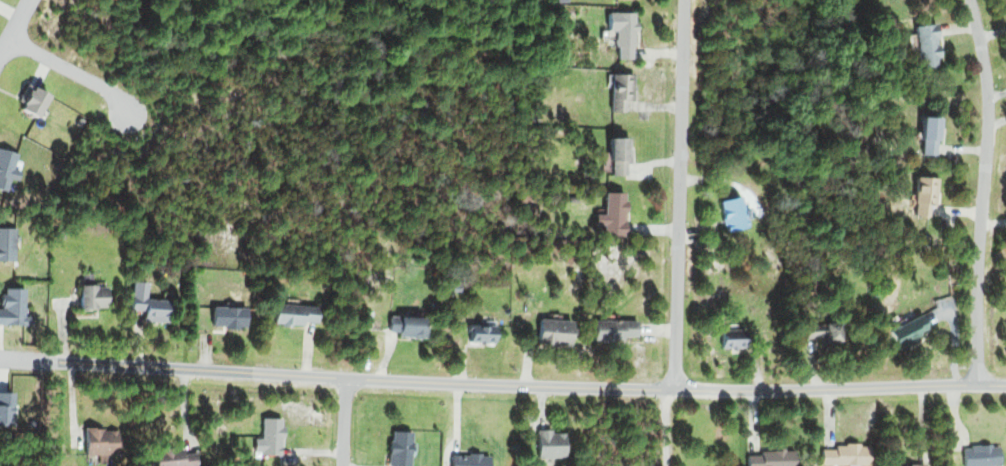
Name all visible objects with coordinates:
road: (17, 32)
building: (618, 33)
building: (924, 46)
road: (79, 74)
building: (618, 92)
building: (26, 103)
building: (925, 135)
building: (614, 155)
building: (5, 168)
road: (986, 190)
road: (681, 194)
building: (921, 197)
building: (728, 214)
building: (608, 215)
building: (86, 296)
building: (141, 302)
building: (11, 307)
building: (1005, 307)
building: (291, 313)
building: (224, 316)
building: (404, 325)
building: (611, 329)
building: (550, 331)
building: (903, 331)
building: (814, 332)
building: (478, 333)
building: (727, 338)
road: (502, 385)
building: (4, 410)
road: (347, 422)
road: (668, 428)
building: (266, 436)
building: (89, 441)
building: (548, 443)
building: (396, 447)
building: (843, 455)
building: (978, 455)
building: (169, 457)
building: (767, 458)
building: (465, 459)
building: (911, 464)

